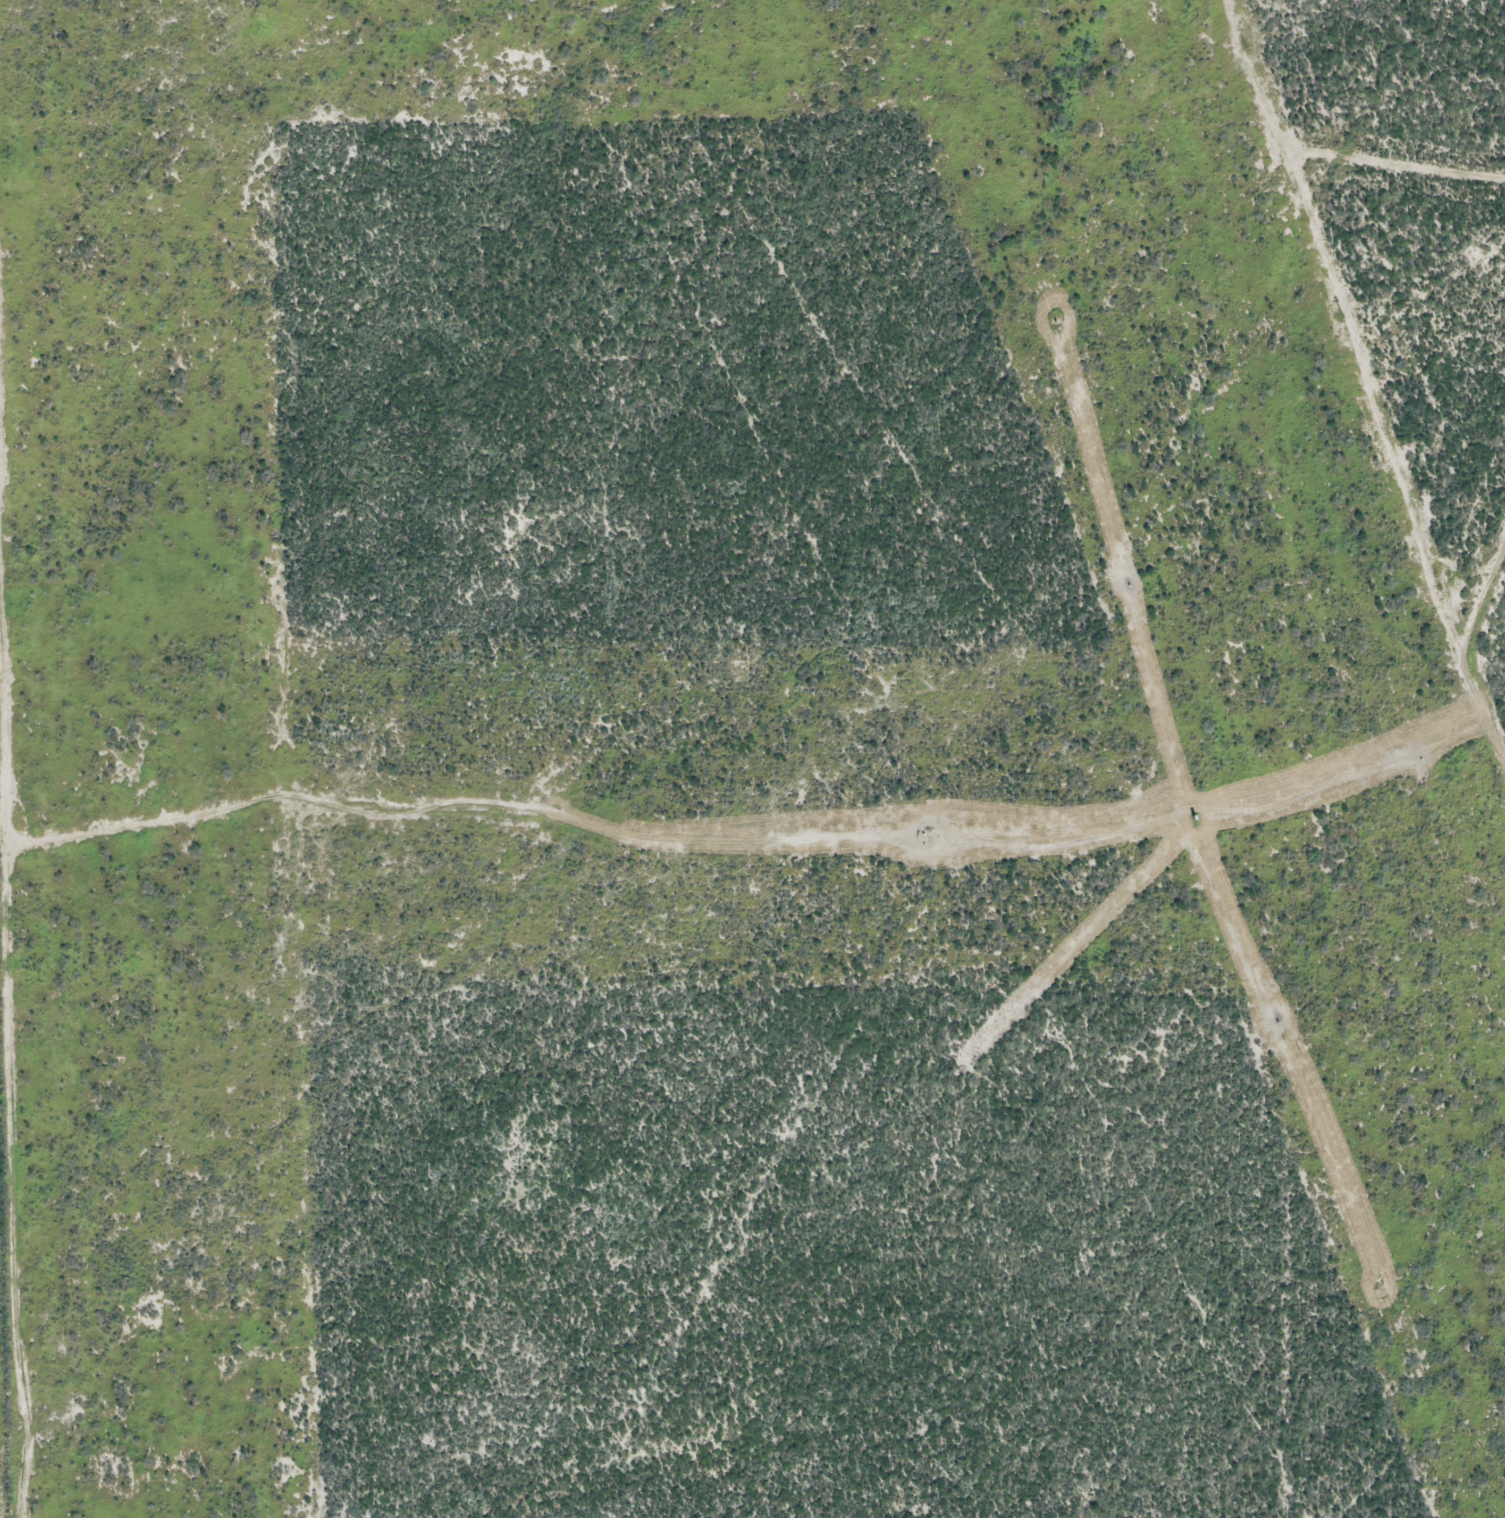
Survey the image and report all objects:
power tower: (1246, 47)
power tower: (1343, 318)
power tower: (1440, 588)

